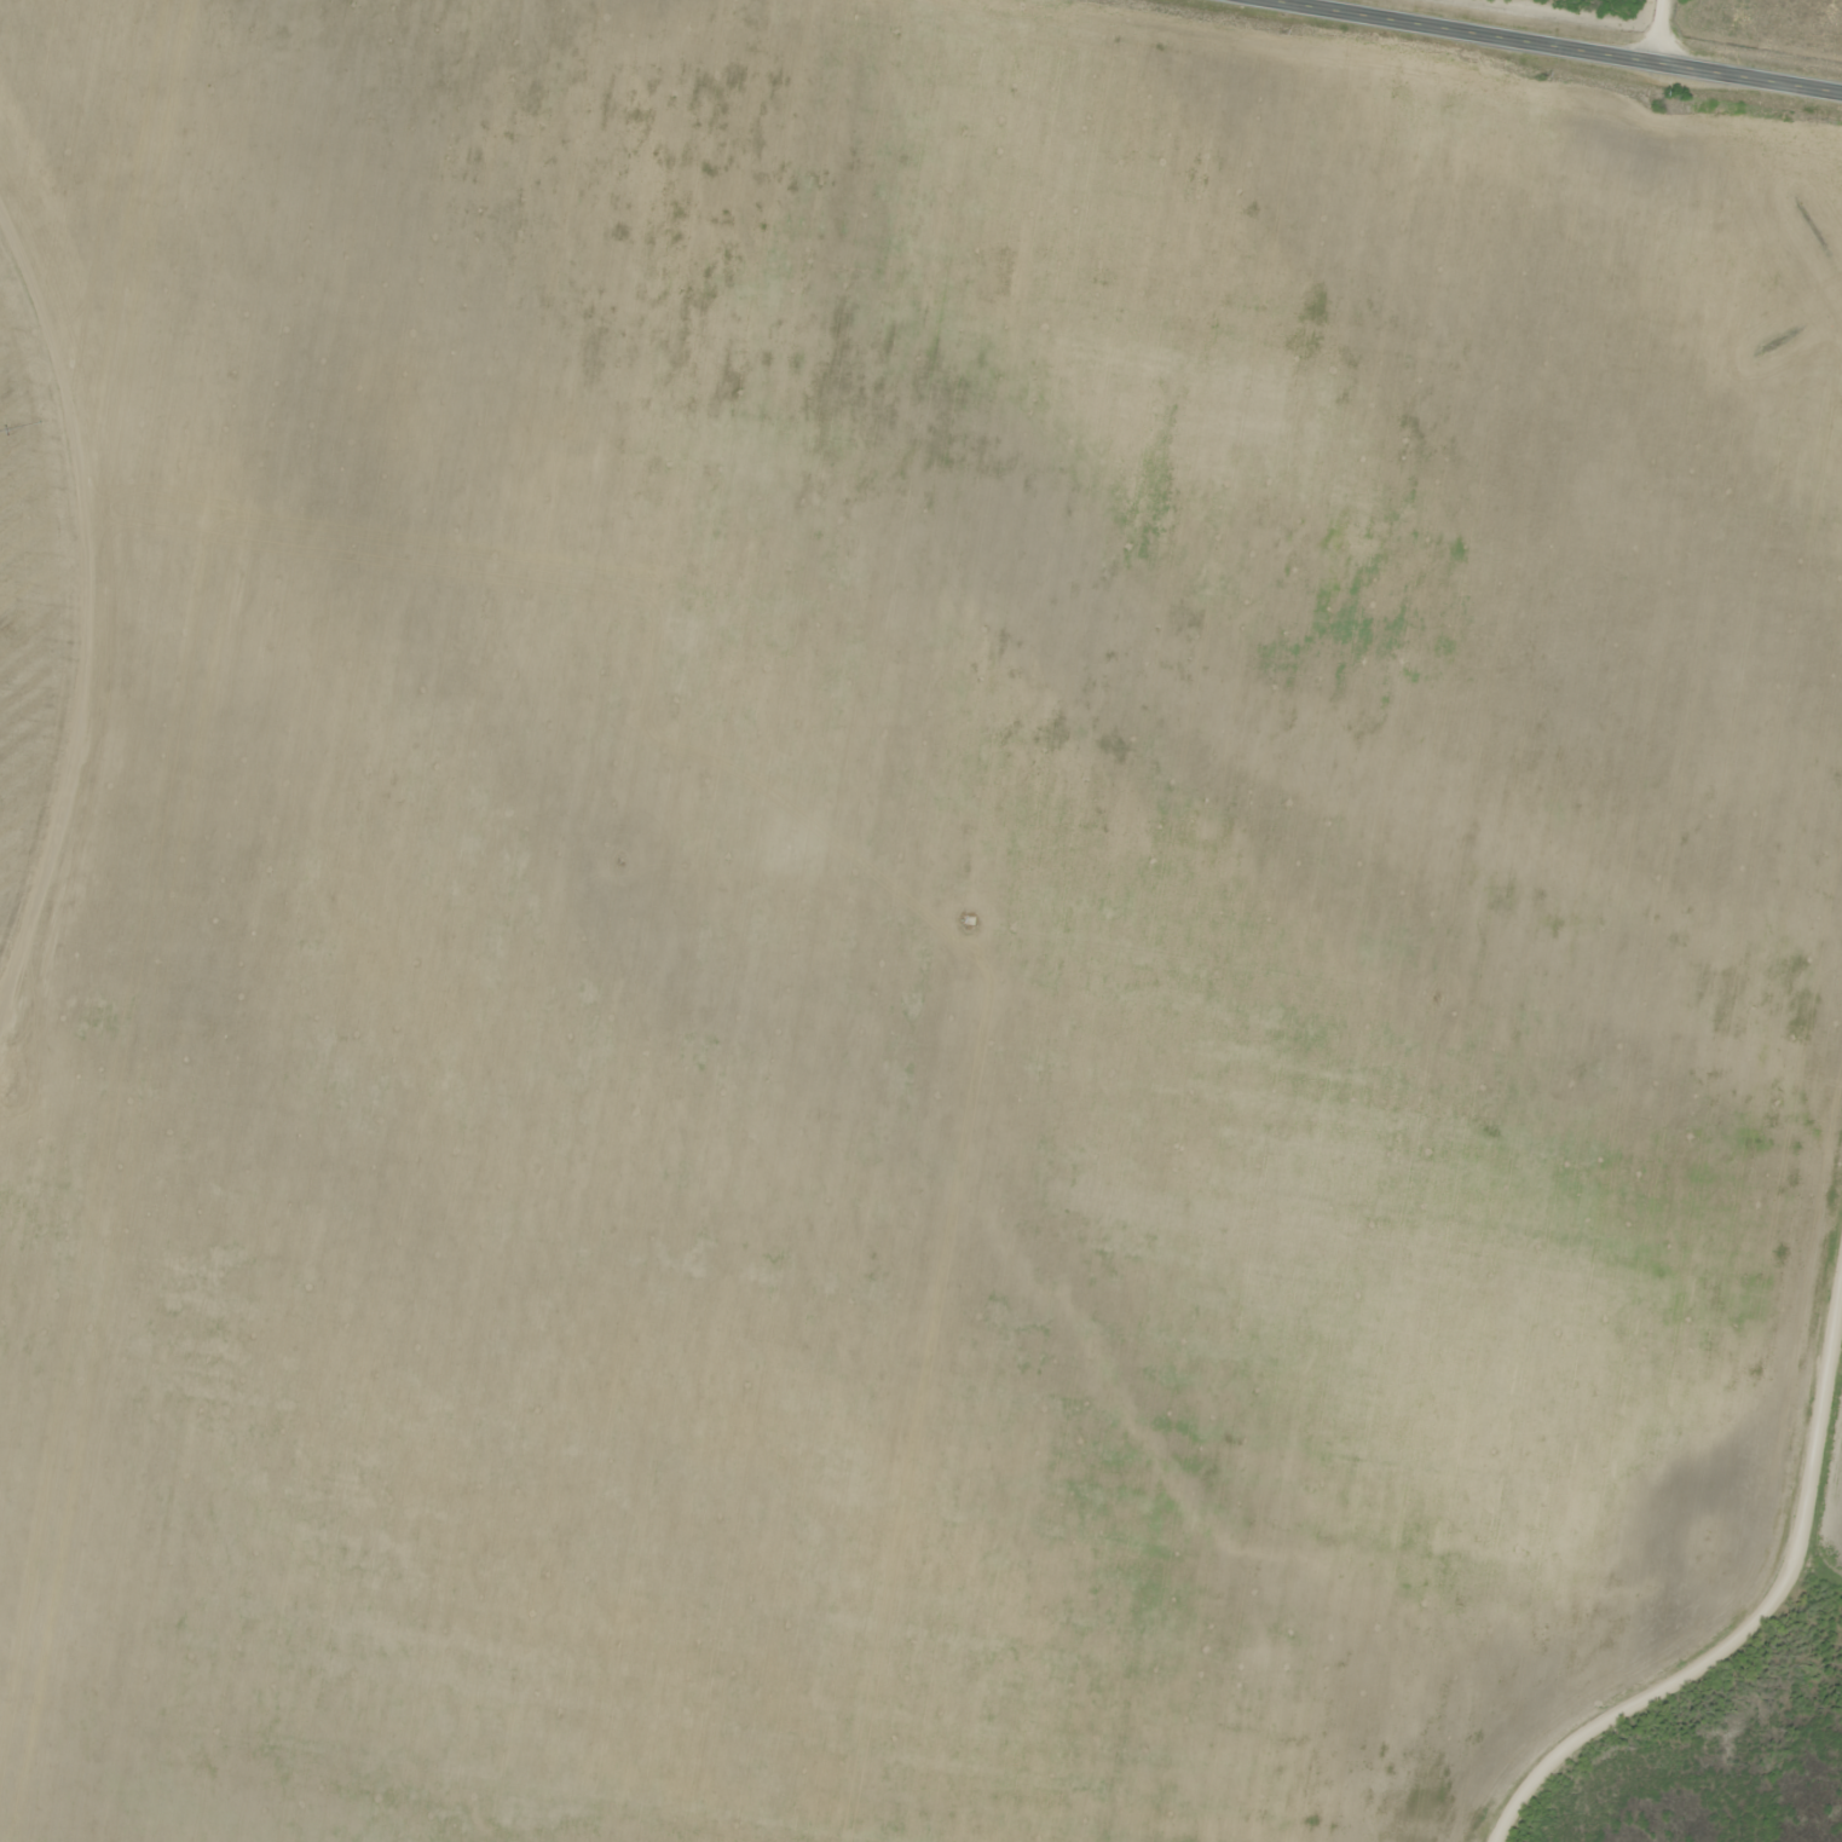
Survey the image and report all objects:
road: (1663, 31)
road: (1557, 47)
road: (1755, 1619)

